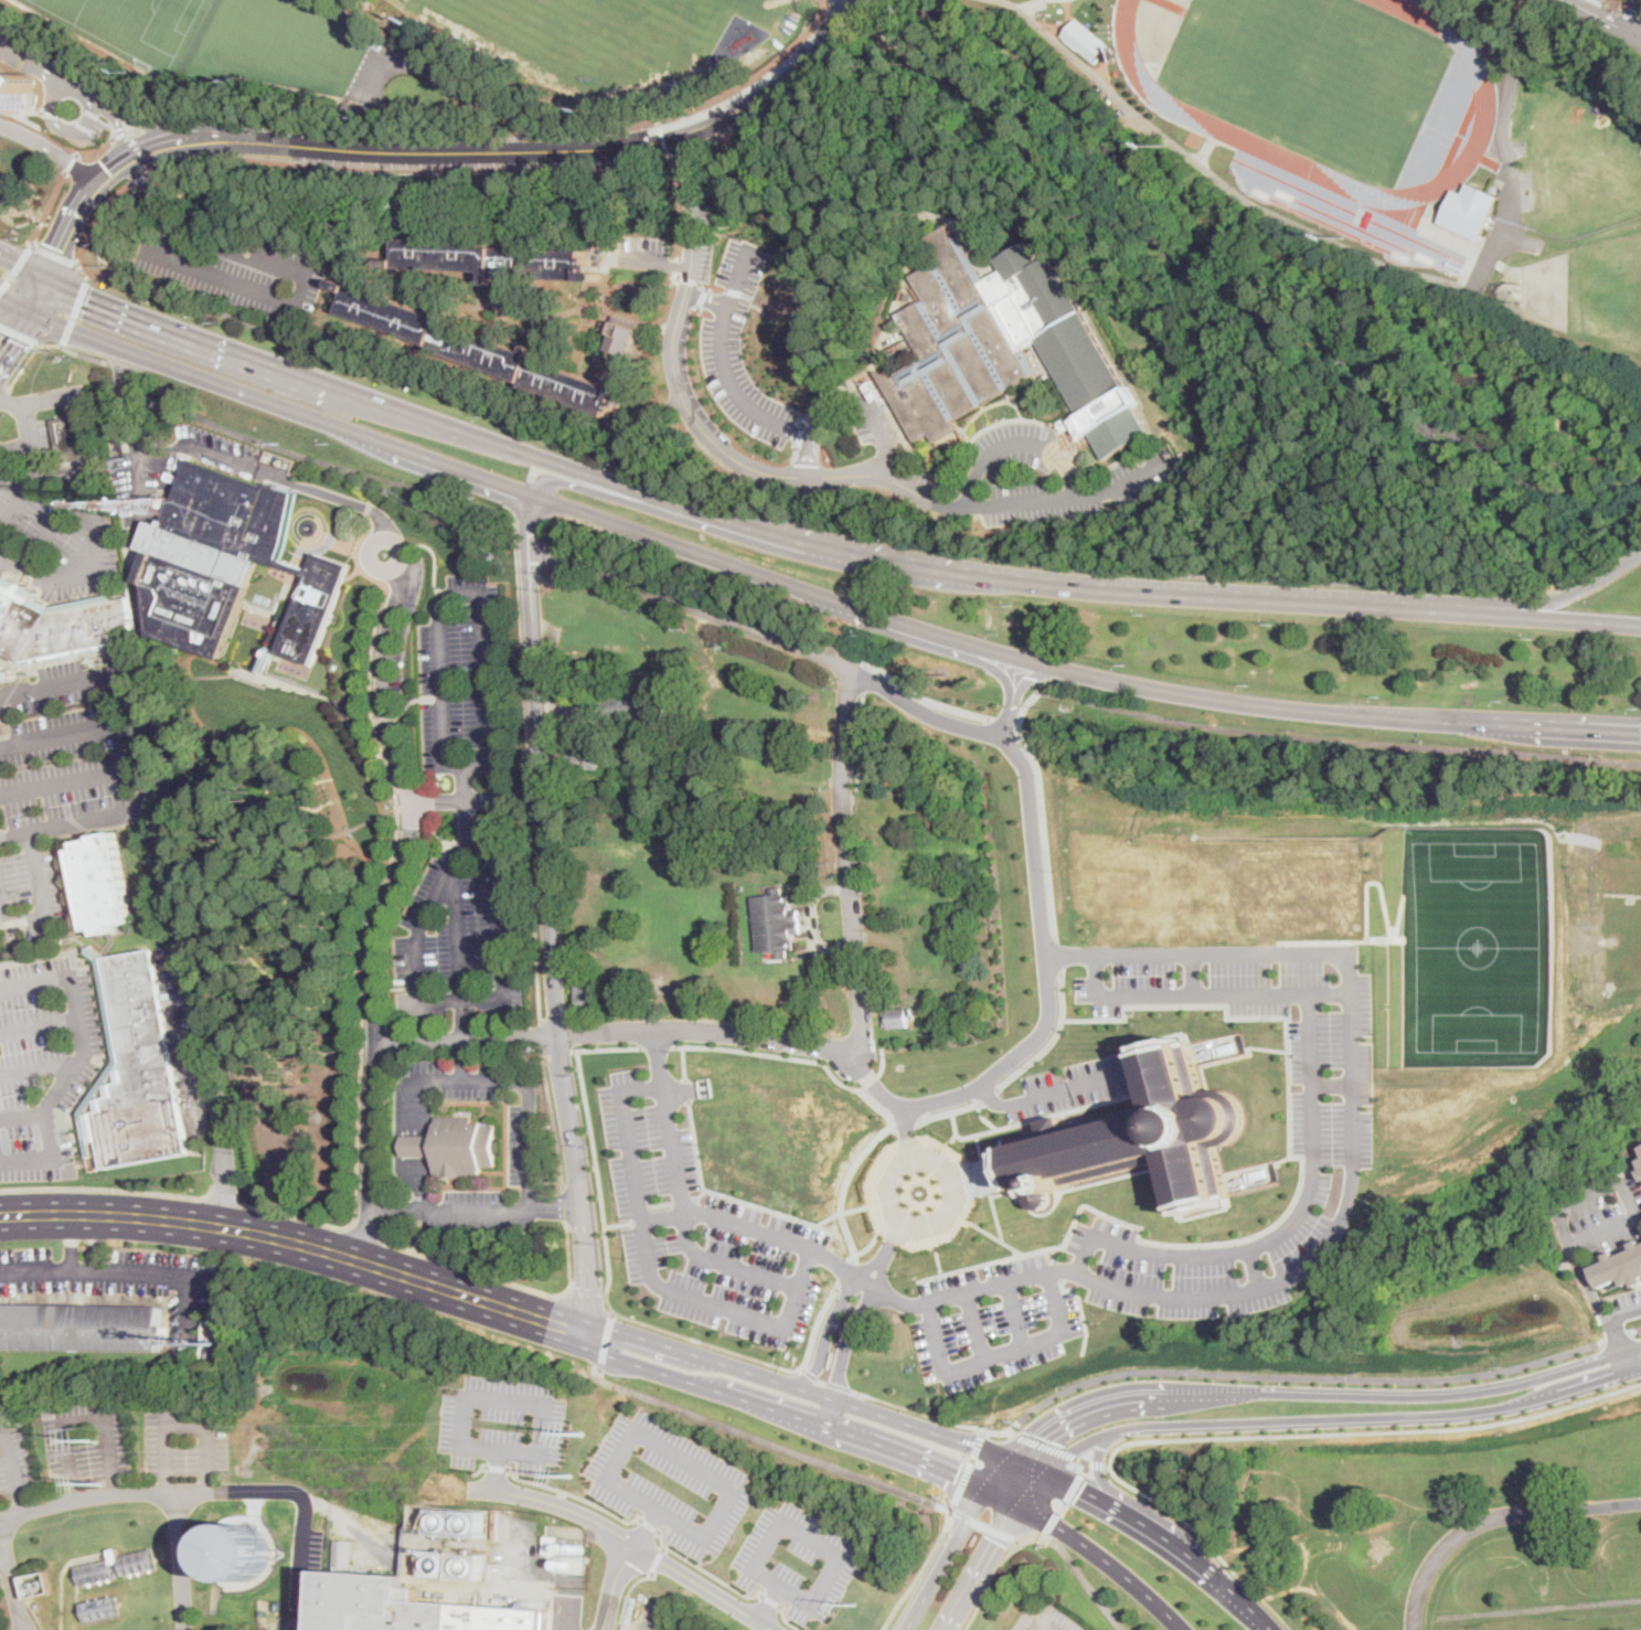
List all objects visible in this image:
building: (1368, 0)
road: (832, 3)
road: (1032, 3)
road: (1173, 4)
road: (1584, 4)
road: (1607, 6)
road: (926, 14)
road: (1630, 14)
road: (1602, 19)
road: (1634, 20)
track: (1442, 23)
road: (1635, 31)
road: (1047, 34)
park: (227, 38)
building: (1085, 40)
park: (621, 41)
parking lot: (10, 42)
road: (923, 52)
park: (1312, 77)
road: (53, 78)
road: (456, 83)
building: (682, 86)
parking lot: (102, 88)
road: (800, 90)
building: (14, 92)
road: (845, 98)
road: (1509, 104)
road: (30, 110)
road: (60, 110)
road: (53, 114)
road: (103, 120)
road: (145, 125)
road: (86, 128)
road: (63, 129)
road: (134, 129)
road: (510, 129)
road: (40, 130)
parking lot: (97, 130)
road: (119, 137)
road: (663, 137)
track: (1237, 137)
road: (226, 141)
track: (1477, 142)
road: (590, 149)
road: (145, 150)
road: (50, 151)
road: (97, 151)
road: (681, 151)
road: (72, 163)
road: (404, 169)
road: (139, 175)
road: (153, 196)
road: (681, 205)
road: (47, 207)
building: (1469, 210)
road: (96, 215)
road: (72, 217)
building: (590, 242)
road: (1158, 243)
traffic signals: (58, 248)
road: (228, 249)
parking lot: (637, 252)
road: (55, 255)
building: (491, 257)
road: (912, 260)
road: (646, 262)
road: (679, 266)
road: (17, 268)
parking lot: (237, 270)
road: (88, 273)
road: (233, 280)
road: (34, 294)
road: (707, 298)
traffic signals: (87, 302)
road: (12, 305)
road: (74, 311)
road: (1187, 313)
road: (1108, 324)
road: (12, 329)
road: (21, 334)
traffic signals: (8, 335)
building: (622, 335)
building: (1012, 343)
parking lot: (740, 347)
building: (480, 349)
road: (77, 352)
building: (893, 353)
road: (876, 360)
road: (724, 363)
road: (25, 365)
road: (125, 369)
road: (36, 371)
building: (875, 388)
road: (4, 395)
road: (57, 396)
road: (8, 401)
road: (850, 401)
road: (122, 403)
road: (279, 405)
road: (84, 408)
road: (90, 425)
parking lot: (874, 425)
road: (85, 426)
road: (1215, 430)
building: (624, 432)
building: (73, 436)
road: (93, 443)
road: (57, 445)
road: (1017, 445)
road: (15, 446)
parking lot: (1019, 447)
road: (53, 451)
road: (90, 454)
road: (319, 458)
road: (238, 461)
road: (780, 475)
road: (1526, 480)
road: (364, 486)
road: (1312, 486)
parking lot: (923, 488)
parking lot: (1078, 492)
road: (1218, 498)
road: (814, 499)
road: (21, 502)
building: (160, 503)
road: (1495, 504)
road: (92, 512)
road: (526, 518)
road: (801, 518)
road: (725, 521)
road: (56, 523)
road: (1035, 531)
parking lot: (54, 535)
road: (302, 536)
road: (340, 537)
road: (395, 541)
road: (775, 546)
road: (358, 547)
road: (305, 551)
road: (433, 556)
building: (231, 563)
road: (1416, 569)
road: (1602, 571)
helipad: (323, 595)
road: (1570, 595)
road: (703, 610)
road: (765, 618)
road: (1566, 619)
building: (60, 622)
parking lot: (403, 626)
road: (928, 629)
road: (522, 646)
road: (979, 658)
building: (268, 659)
building: (4, 672)
road: (866, 675)
parking lot: (465, 676)
road: (1027, 680)
road: (58, 683)
building: (635, 706)
road: (407, 707)
road: (484, 716)
parking lot: (70, 717)
road: (1005, 720)
road: (1006, 720)
road: (1487, 723)
road: (66, 732)
road: (1318, 737)
road: (862, 739)
building: (616, 755)
building: (585, 757)
road: (72, 780)
road: (531, 795)
road: (478, 801)
parking lot: (64, 823)
road: (78, 824)
road: (1045, 828)
road: (846, 860)
building: (99, 884)
road: (548, 892)
road: (371, 904)
park: (275, 907)
road: (383, 907)
road: (45, 909)
road: (534, 916)
building: (776, 924)
road: (1044, 934)
park: (1482, 937)
building: (595, 945)
road: (189, 947)
road: (1058, 955)
road: (1187, 970)
building: (987, 986)
road: (1198, 989)
building: (587, 997)
road: (473, 1001)
road: (1175, 1004)
building: (897, 1019)
road: (39, 1025)
road: (620, 1030)
road: (543, 1037)
road: (1049, 1042)
road: (658, 1046)
road: (607, 1048)
road: (556, 1051)
road: (796, 1057)
road: (78, 1061)
road: (463, 1061)
parking lot: (42, 1063)
road: (684, 1063)
road: (39, 1068)
building: (135, 1070)
road: (459, 1080)
road: (1326, 1083)
road: (1049, 1091)
road: (988, 1095)
road: (949, 1110)
road: (22, 1117)
road: (554, 1119)
road: (905, 1121)
parking lot: (1332, 1132)
road: (907, 1133)
building: (1145, 1138)
building: (457, 1148)
road: (842, 1185)
road: (956, 1186)
road: (106, 1187)
road: (680, 1193)
road: (226, 1194)
road: (699, 1194)
road: (724, 1195)
road: (1630, 1200)
road: (681, 1202)
road: (659, 1205)
road: (566, 1206)
road: (840, 1211)
road: (476, 1212)
road: (639, 1214)
road: (291, 1215)
road: (1283, 1223)
road: (617, 1224)
parking lot: (702, 1228)
road: (361, 1233)
road: (295, 1242)
road: (72, 1243)
road: (96, 1244)
road: (1186, 1244)
road: (884, 1253)
road: (569, 1257)
road: (1251, 1266)
road: (472, 1269)
road: (644, 1269)
building: (1619, 1269)
road: (844, 1271)
parking lot: (85, 1272)
road: (122, 1272)
road: (306, 1275)
road: (1270, 1278)
road: (608, 1279)
road: (1589, 1288)
parking lot: (194, 1289)
road: (568, 1290)
road: (586, 1292)
road: (604, 1296)
road: (585, 1309)
road: (1015, 1312)
parking lot: (994, 1321)
road: (816, 1323)
road: (976, 1323)
building: (82, 1328)
road: (821, 1329)
road: (1635, 1331)
road: (636, 1334)
road: (1618, 1336)
road: (607, 1339)
building: (224, 1340)
road: (839, 1353)
road: (999, 1353)
road: (644, 1367)
road: (802, 1368)
road: (760, 1372)
road: (809, 1373)
road: (1301, 1374)
road: (821, 1379)
road: (839, 1385)
road: (1448, 1394)
road: (1122, 1399)
road: (509, 1400)
road: (907, 1407)
road: (769, 1408)
road: (1384, 1416)
road: (84, 1419)
road: (178, 1419)
parking lot: (503, 1423)
road: (921, 1426)
road: (973, 1429)
road: (1372, 1430)
road: (998, 1431)
power tower: (583, 1434)
traffic signals: (1041, 1435)
parking lot: (86, 1440)
power tower: (97, 1440)
road: (763, 1440)
parking lot: (183, 1442)
road: (1078, 1445)
road: (1049, 1446)
road: (904, 1452)
parking lot: (15, 1460)
road: (681, 1461)
road: (1098, 1462)
road: (1026, 1466)
road: (497, 1468)
road: (967, 1468)
road: (481, 1469)
road: (1084, 1469)
road: (1100, 1469)
road: (494, 1470)
road: (14, 1471)
road: (1000, 1472)
traffic signals: (958, 1473)
power tower: (571, 1475)
parking lot: (670, 1482)
power tower: (103, 1483)
road: (1074, 1488)
road: (1081, 1489)
traffic signals: (1081, 1489)
road: (294, 1491)
road: (156, 1494)
road: (574, 1494)
road: (977, 1503)
road: (1063, 1508)
road: (948, 1510)
road: (1546, 1511)
building: (459, 1521)
road: (1053, 1523)
road: (647, 1525)
road: (649, 1525)
road: (984, 1525)
building: (377, 1526)
road: (1046, 1535)
road: (1047, 1537)
road: (812, 1538)
road: (1029, 1538)
road: (629, 1540)
traffic signals: (997, 1540)
road: (1206, 1541)
building: (548, 1544)
road: (663, 1548)
road: (990, 1549)
road: (1089, 1549)
building: (340, 1552)
building: (239, 1553)
building: (116, 1554)
building: (388, 1559)
parking lot: (798, 1559)
road: (3, 1560)
building: (139, 1560)
road: (657, 1560)
building: (440, 1564)
road: (925, 1564)
road: (1200, 1564)
building: (470, 1565)
building: (97, 1570)
road: (705, 1570)
road: (63, 1575)
road: (936, 1576)
road: (1424, 1576)
road: (11, 1579)
road: (1320, 1580)
road: (614, 1584)
road: (1085, 1584)
road: (991, 1586)
road: (77, 1588)
road: (628, 1594)
road: (771, 1601)
road: (769, 1602)
power tower: (856, 1606)
building: (102, 1607)
building: (413, 1608)
road: (788, 1620)
parking lot: (1044, 1620)
road: (1042, 1623)

